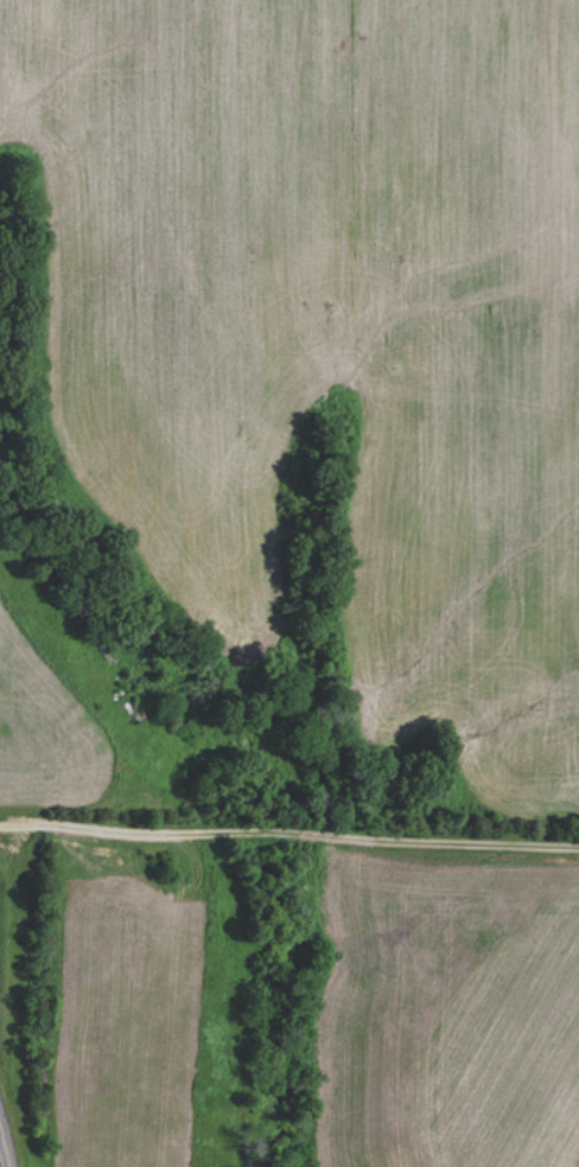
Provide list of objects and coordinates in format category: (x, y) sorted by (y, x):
road: (5, 1143)

